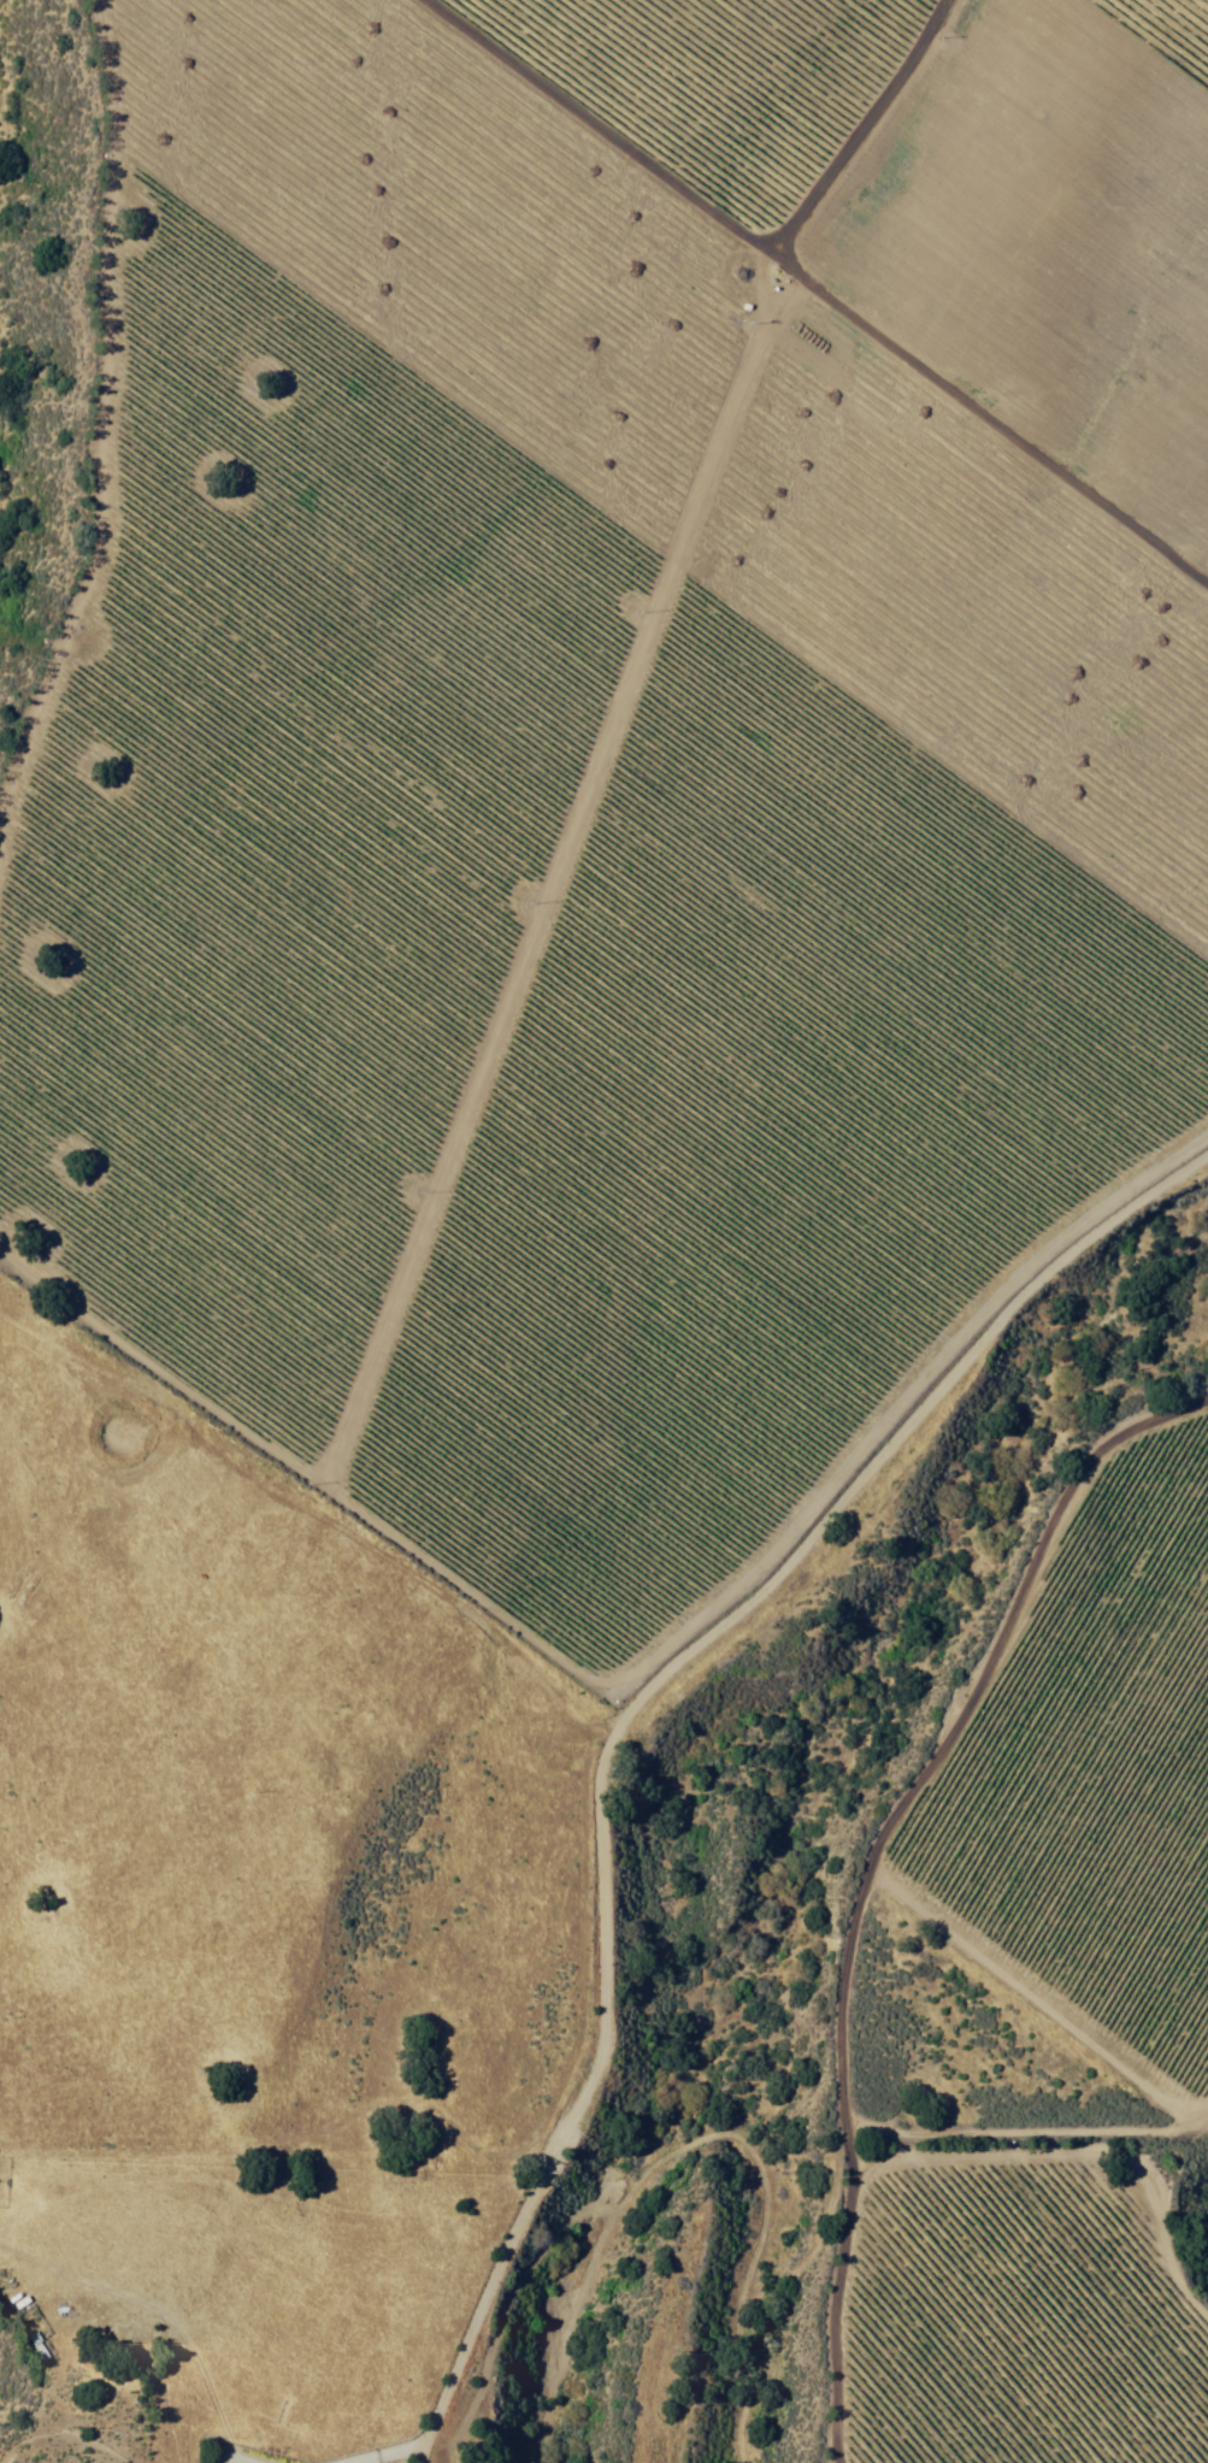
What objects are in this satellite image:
crop: (618, 729)
building: (1151, 1054)
road: (594, 1726)
crop: (1044, 2002)
road: (160, 2317)
building: (40, 2346)
road: (425, 2452)

